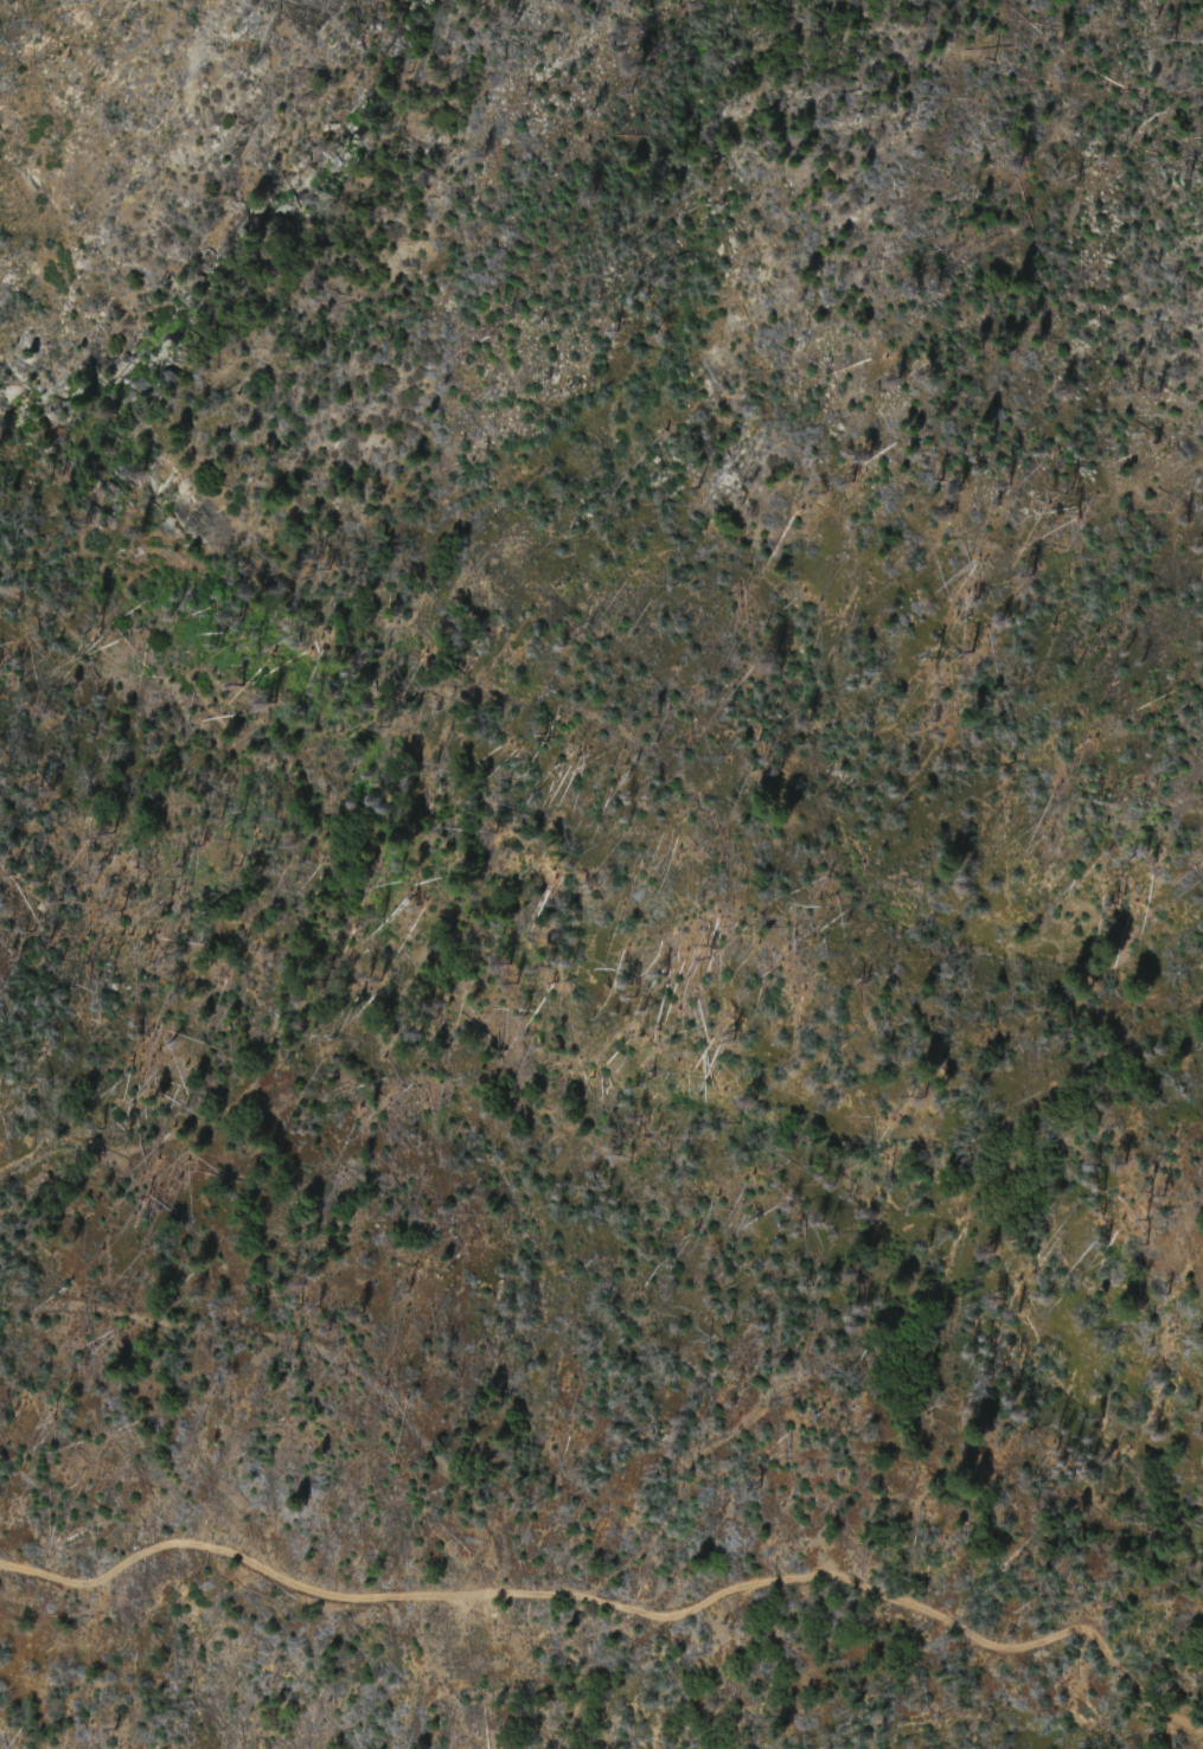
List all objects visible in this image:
road: (407, 1599)

